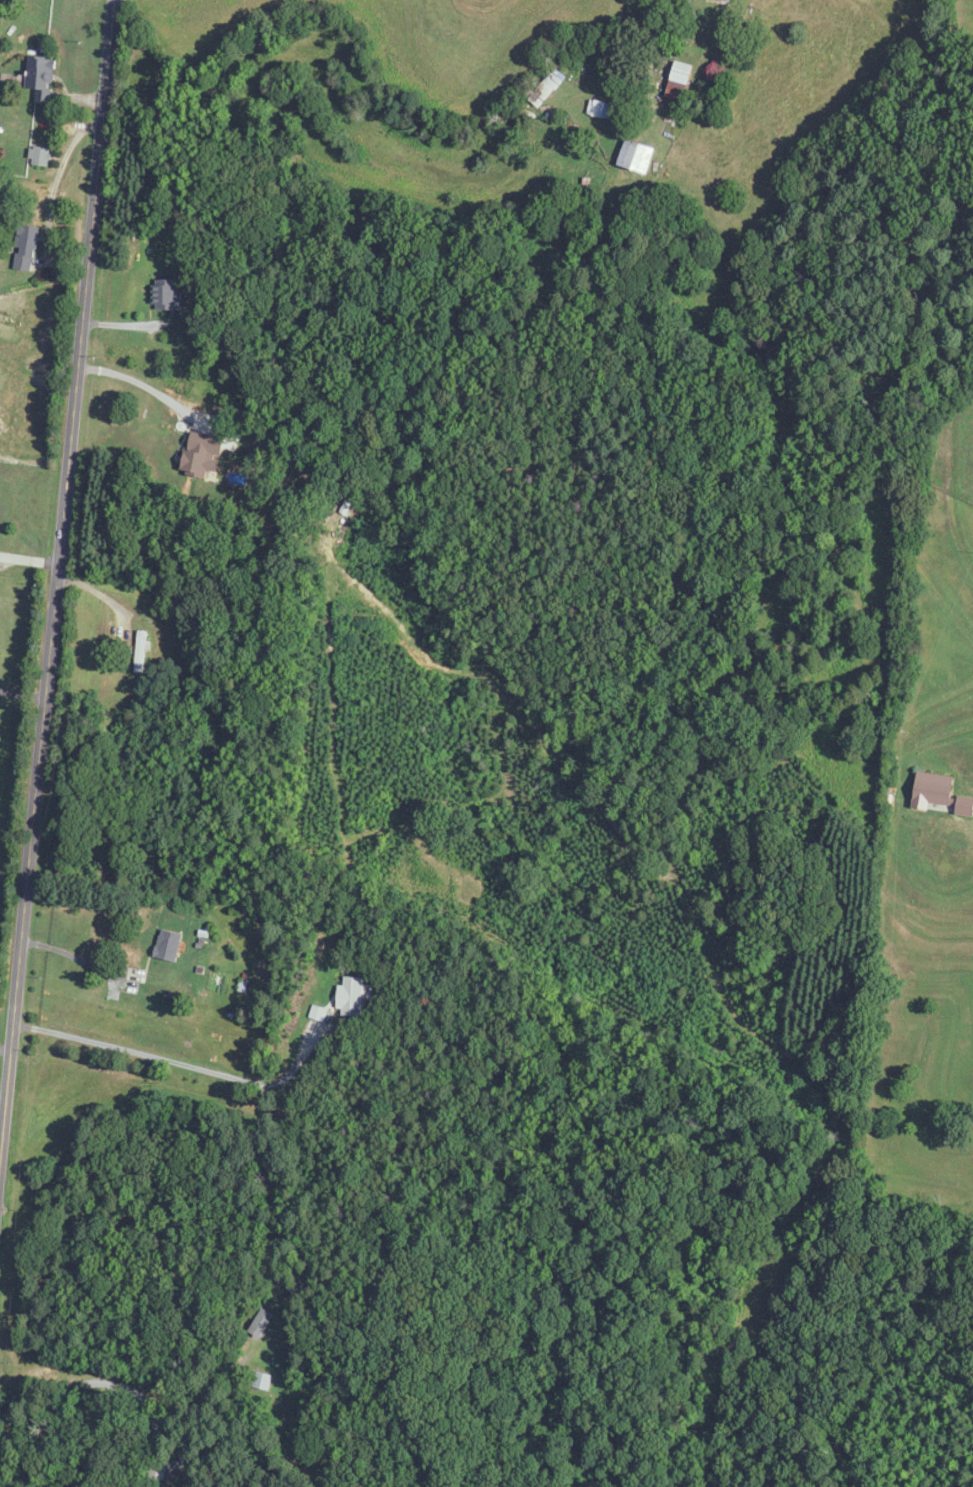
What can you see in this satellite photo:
building: (728, 0)
building: (42, 79)
building: (681, 82)
building: (548, 88)
building: (609, 112)
building: (41, 157)
building: (637, 158)
building: (27, 248)
building: (168, 295)
road: (143, 390)
road: (28, 553)
road: (55, 581)
road: (100, 587)
building: (141, 652)
building: (169, 946)
road: (79, 957)
building: (354, 998)
road: (179, 1062)
building: (263, 1381)

